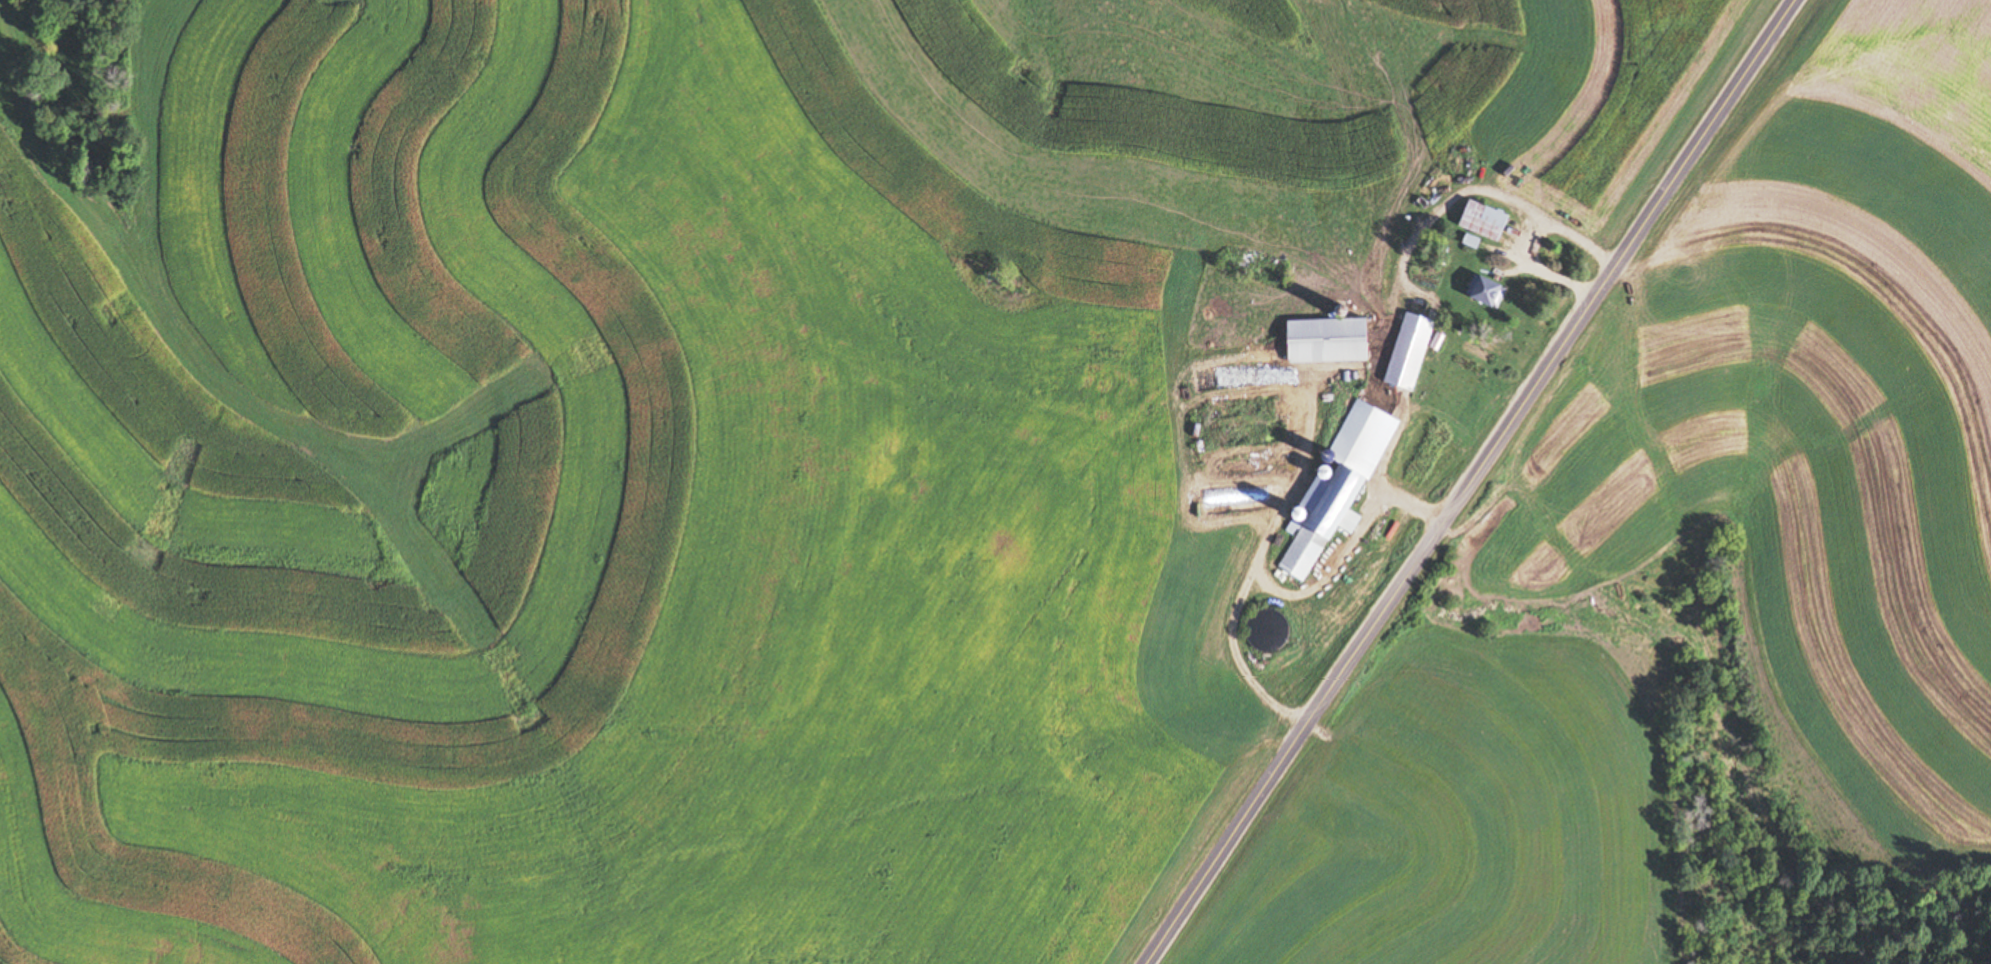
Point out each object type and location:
crop: (1356, 79)
road: (1065, 138)
crop: (702, 167)
building: (1480, 220)
building: (1251, 263)
building: (1481, 292)
building: (1320, 341)
building: (1403, 352)
road: (891, 373)
crop: (1812, 424)
road: (1464, 482)
building: (1332, 490)
crop: (37, 545)
crop: (587, 635)
crop: (1473, 822)

